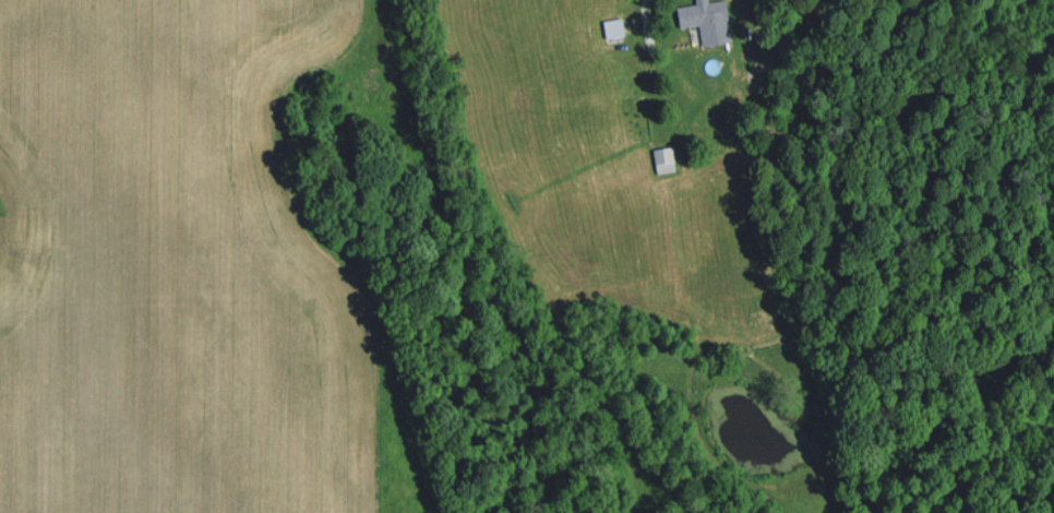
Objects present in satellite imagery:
road: (642, 12)
building: (709, 19)
building: (616, 25)
building: (667, 158)

